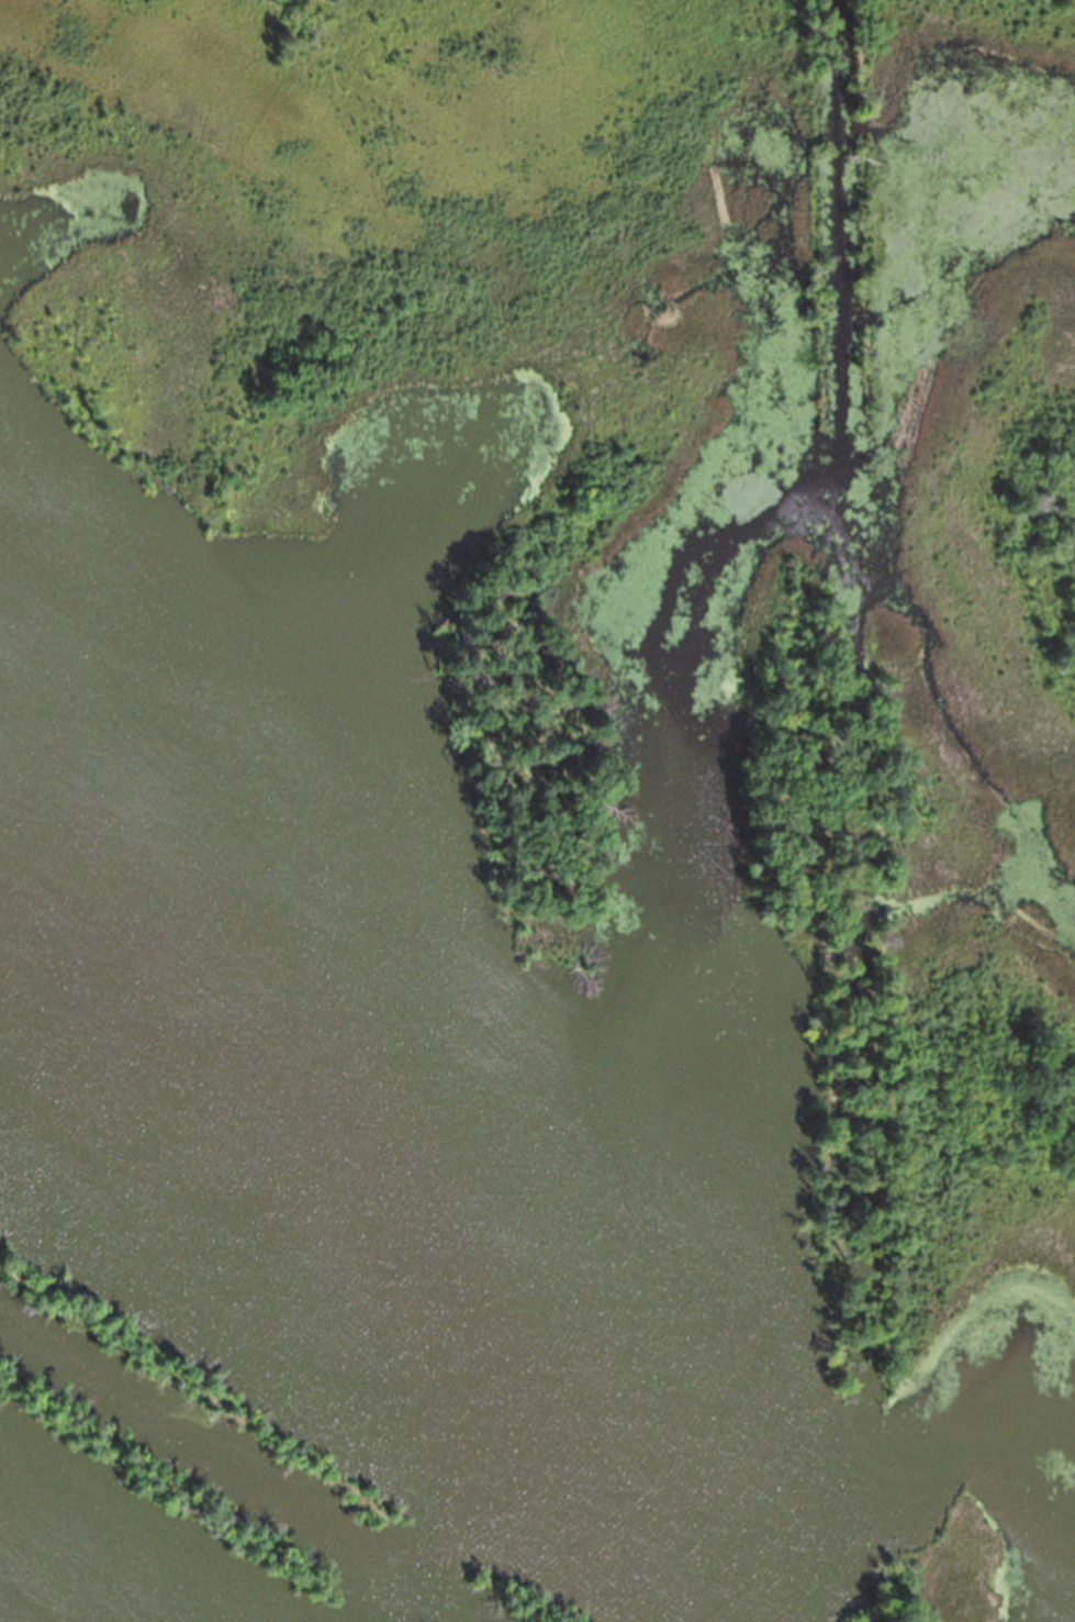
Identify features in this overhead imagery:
river: (229, 1474)

